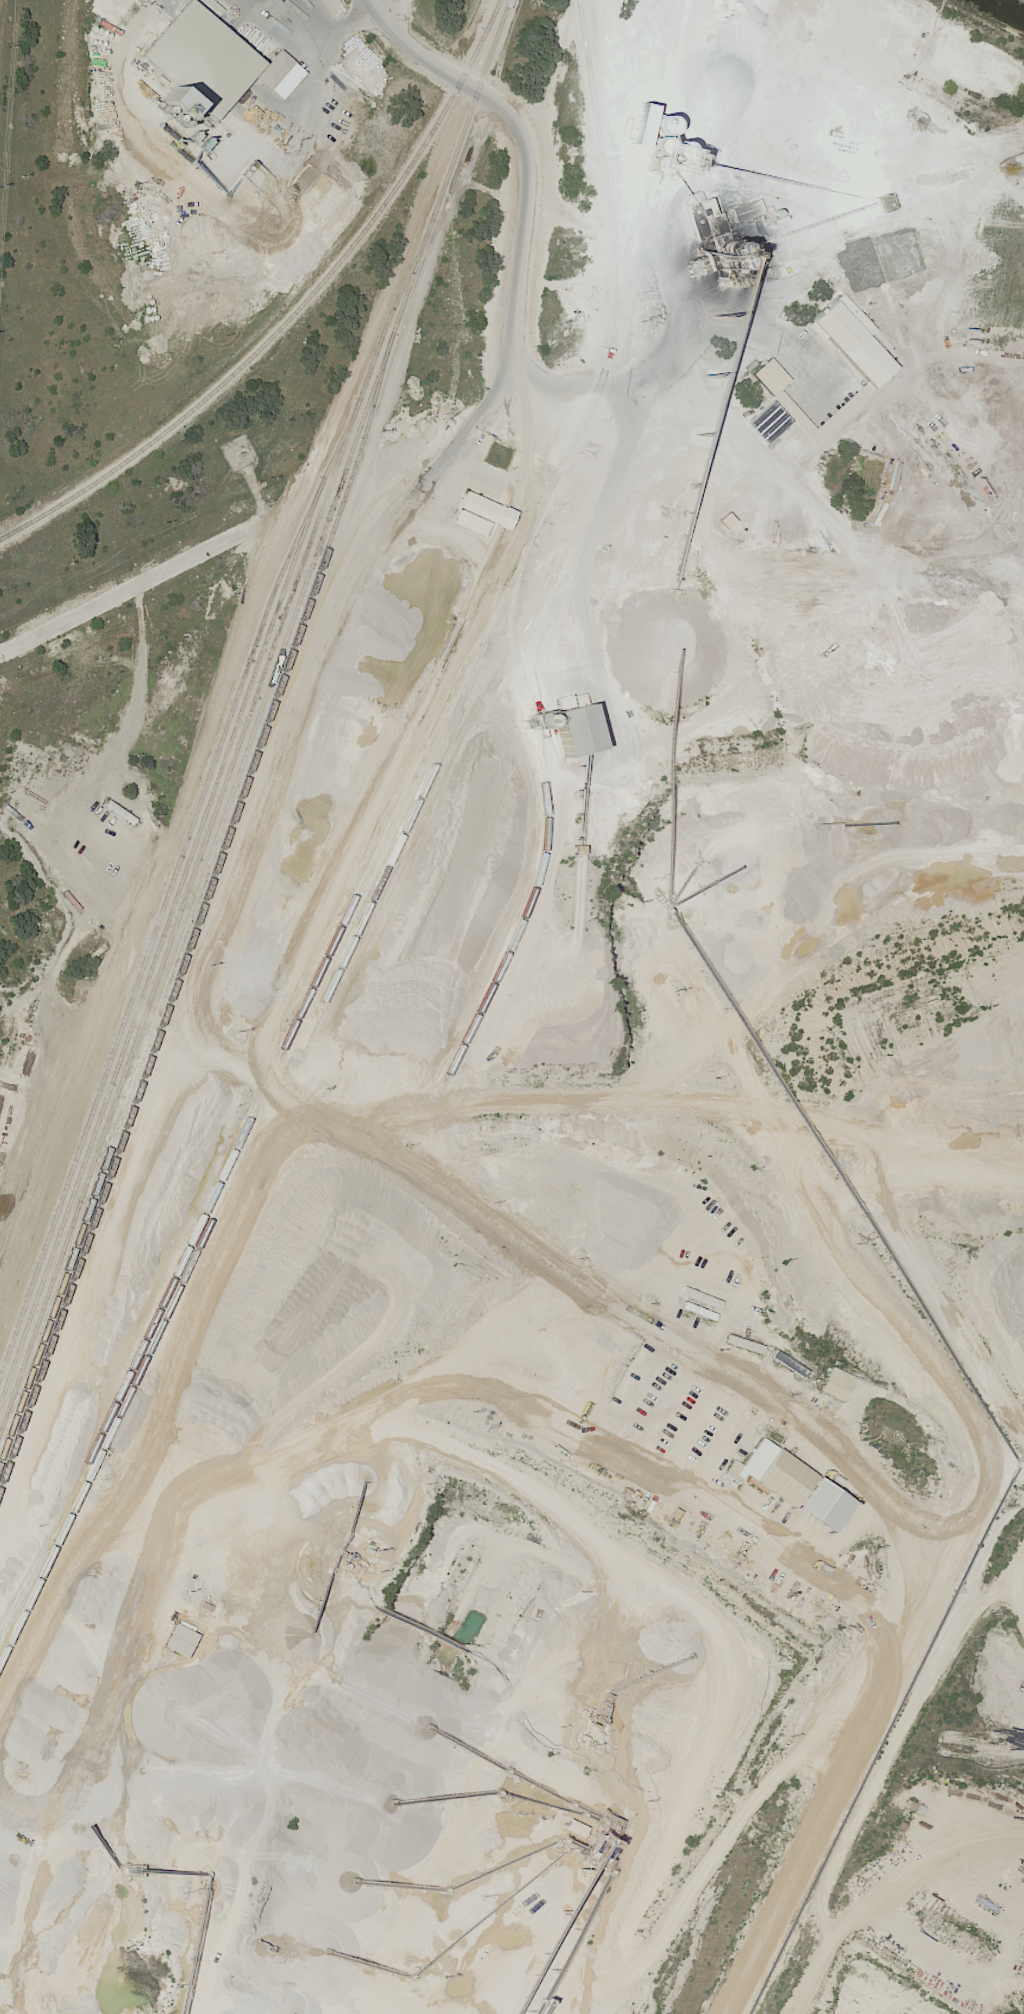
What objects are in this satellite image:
road: (384, 9)
railway: (492, 13)
road: (344, 21)
railway: (488, 25)
road: (312, 72)
road: (530, 157)
railway: (384, 324)
road: (732, 330)
railway: (273, 331)
building: (840, 333)
building: (808, 374)
road: (485, 399)
building: (484, 515)
railway: (248, 741)
railway: (434, 744)
railway: (541, 782)
railway: (173, 902)
railway: (177, 916)
road: (148, 919)
railway: (293, 1022)
road: (320, 1030)
quarry: (558, 1132)
railway: (63, 1260)
railway: (49, 1312)
road: (914, 1341)
building: (789, 1366)
building: (837, 1385)
railway: (18, 1392)
building: (777, 1475)

